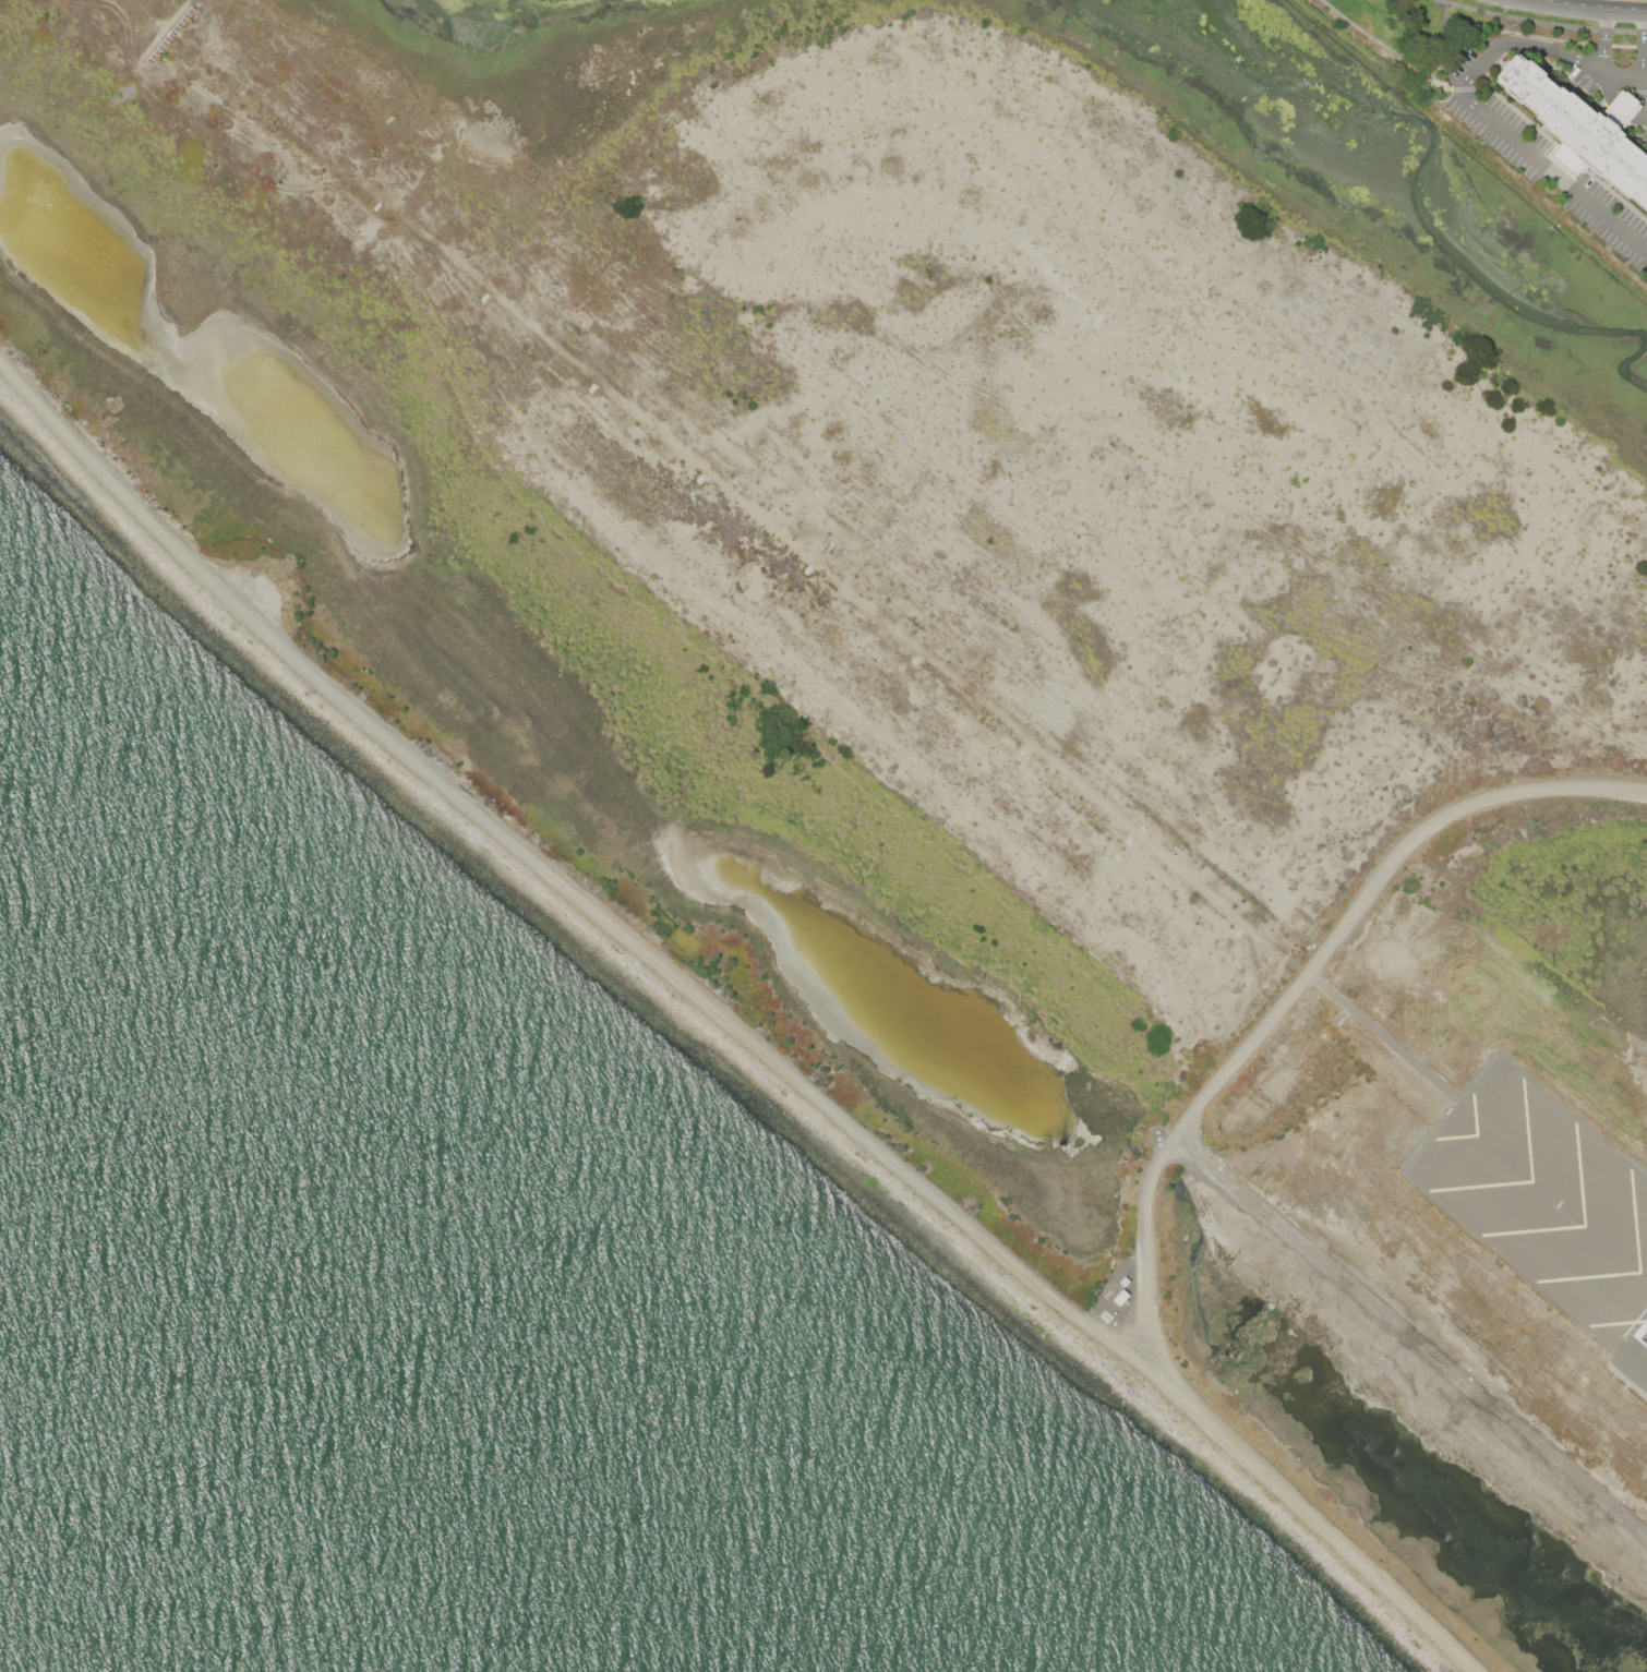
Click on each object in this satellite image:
road: (1583, 8)
road: (1544, 21)
park: (1397, 35)
road: (1544, 36)
road: (1603, 40)
road: (1643, 49)
road: (1403, 52)
road: (1615, 77)
road: (1642, 97)
road: (1494, 122)
building: (1578, 128)
airport: (954, 675)

